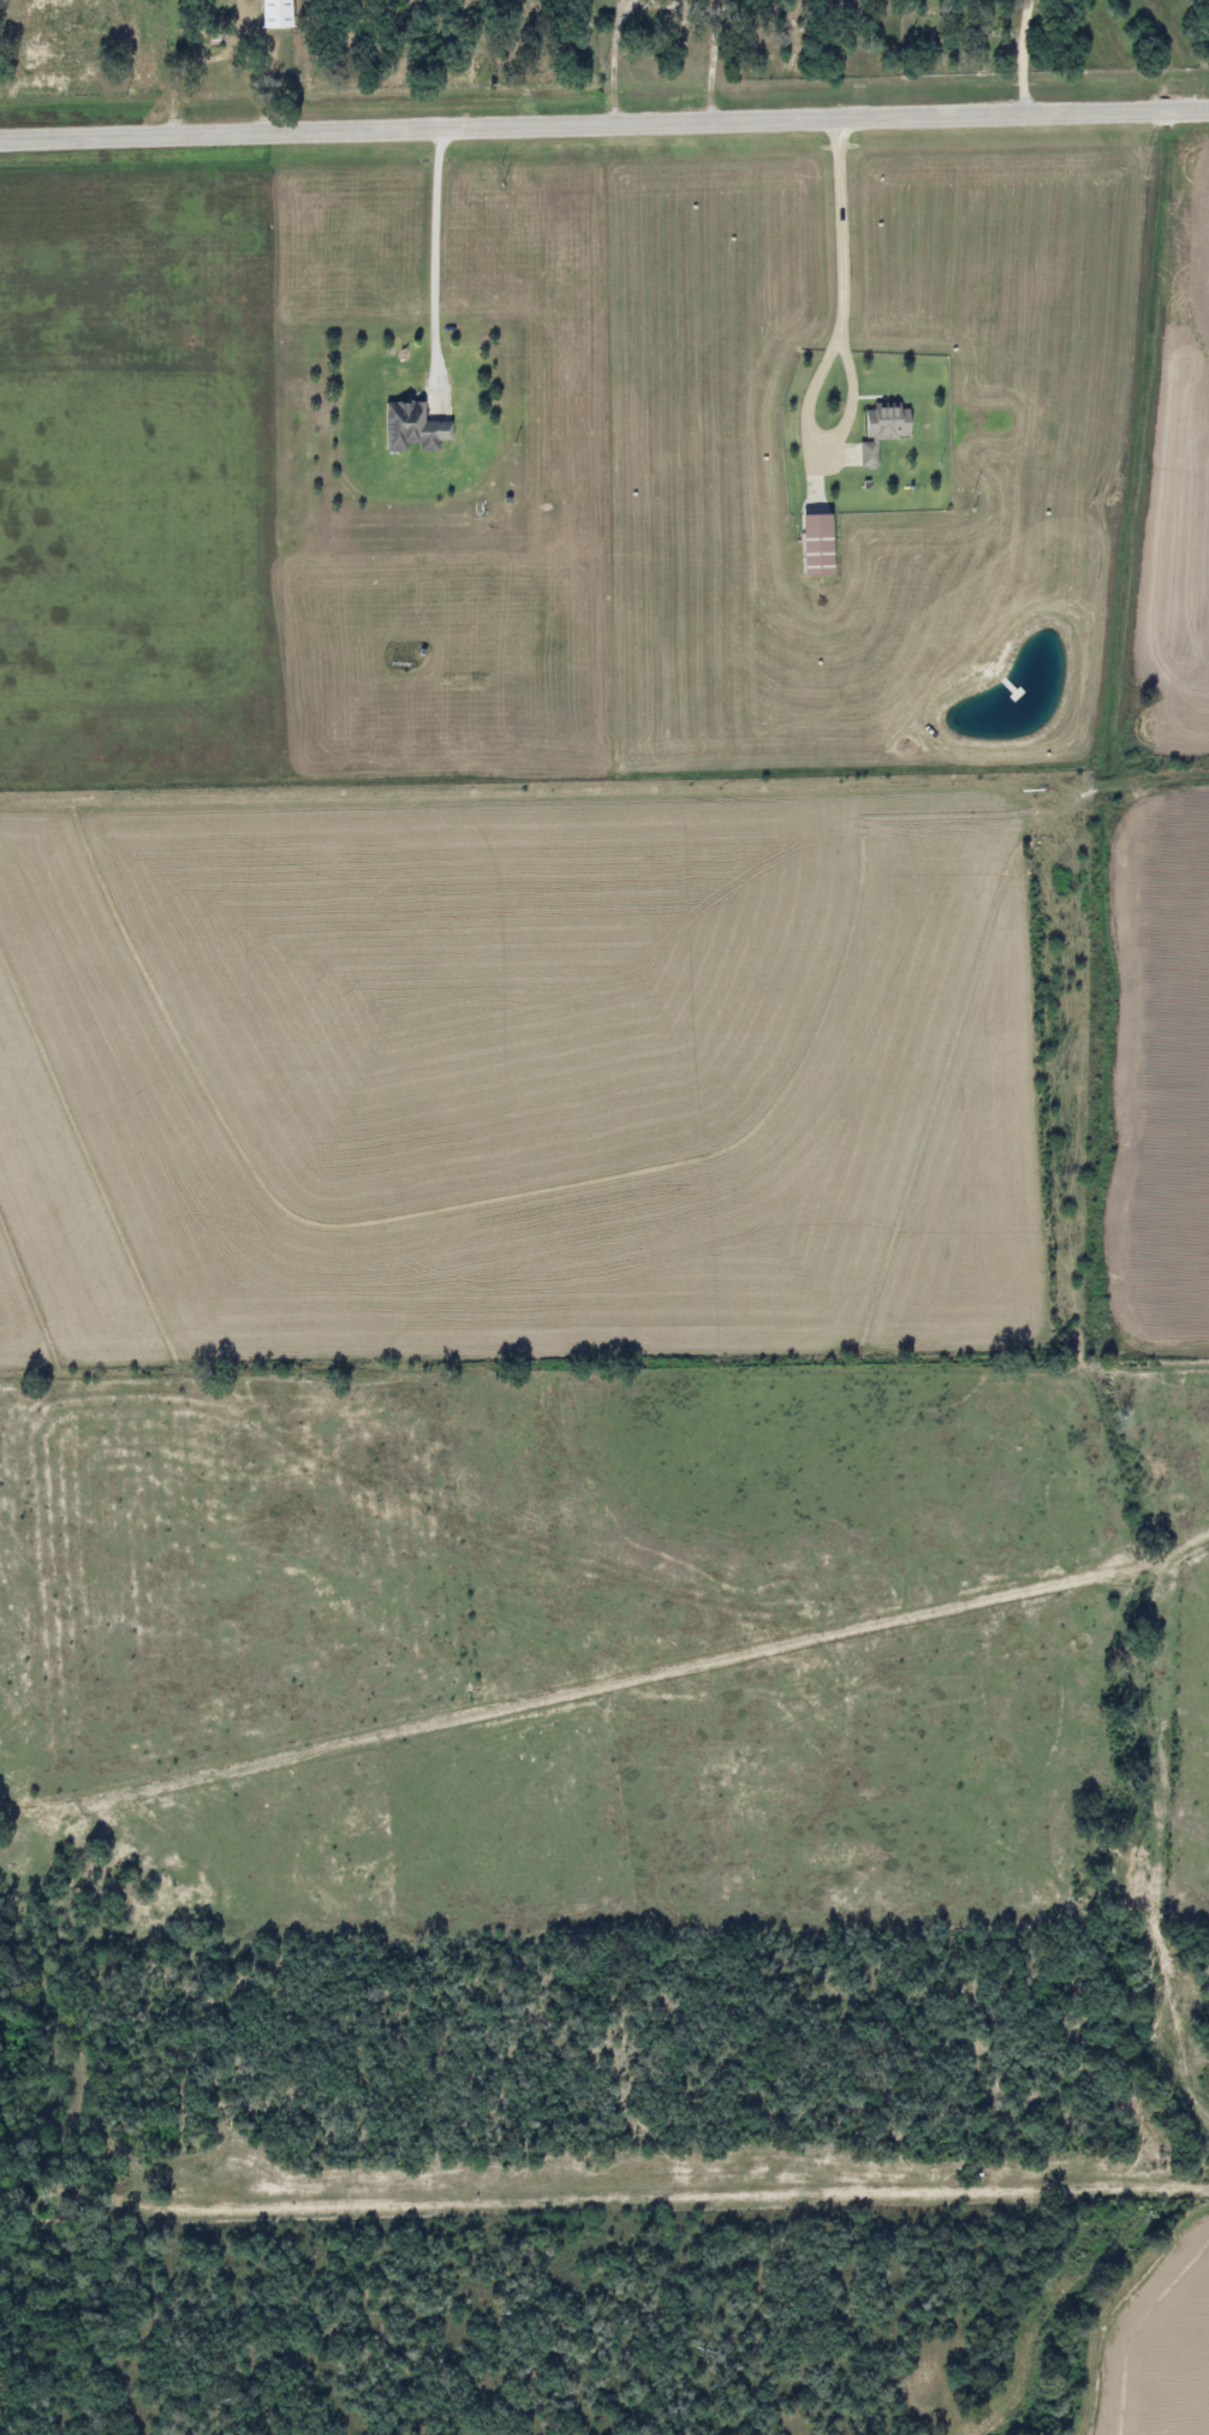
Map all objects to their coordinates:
road: (660, 5)
building: (272, 14)
road: (1019, 58)
road: (604, 125)
road: (429, 257)
road: (836, 257)
building: (409, 428)
building: (879, 430)

